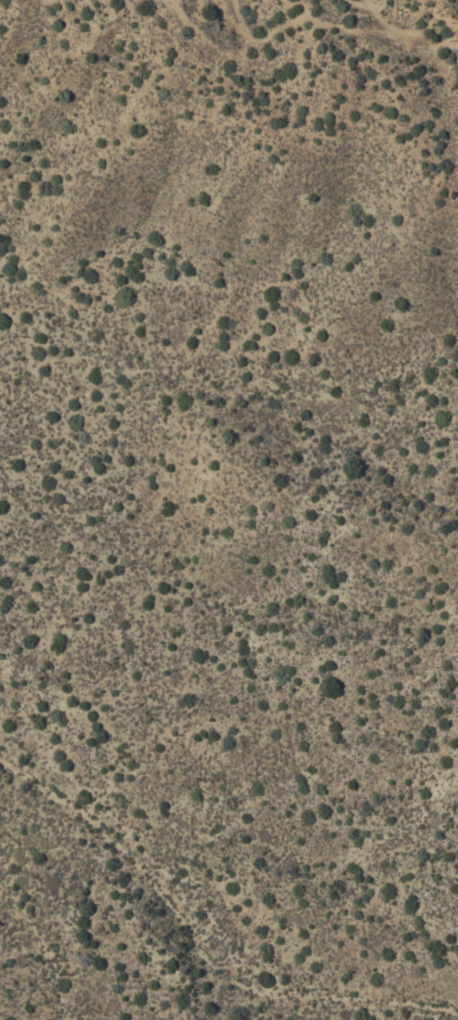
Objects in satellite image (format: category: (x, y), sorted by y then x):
road: (149, 334)

